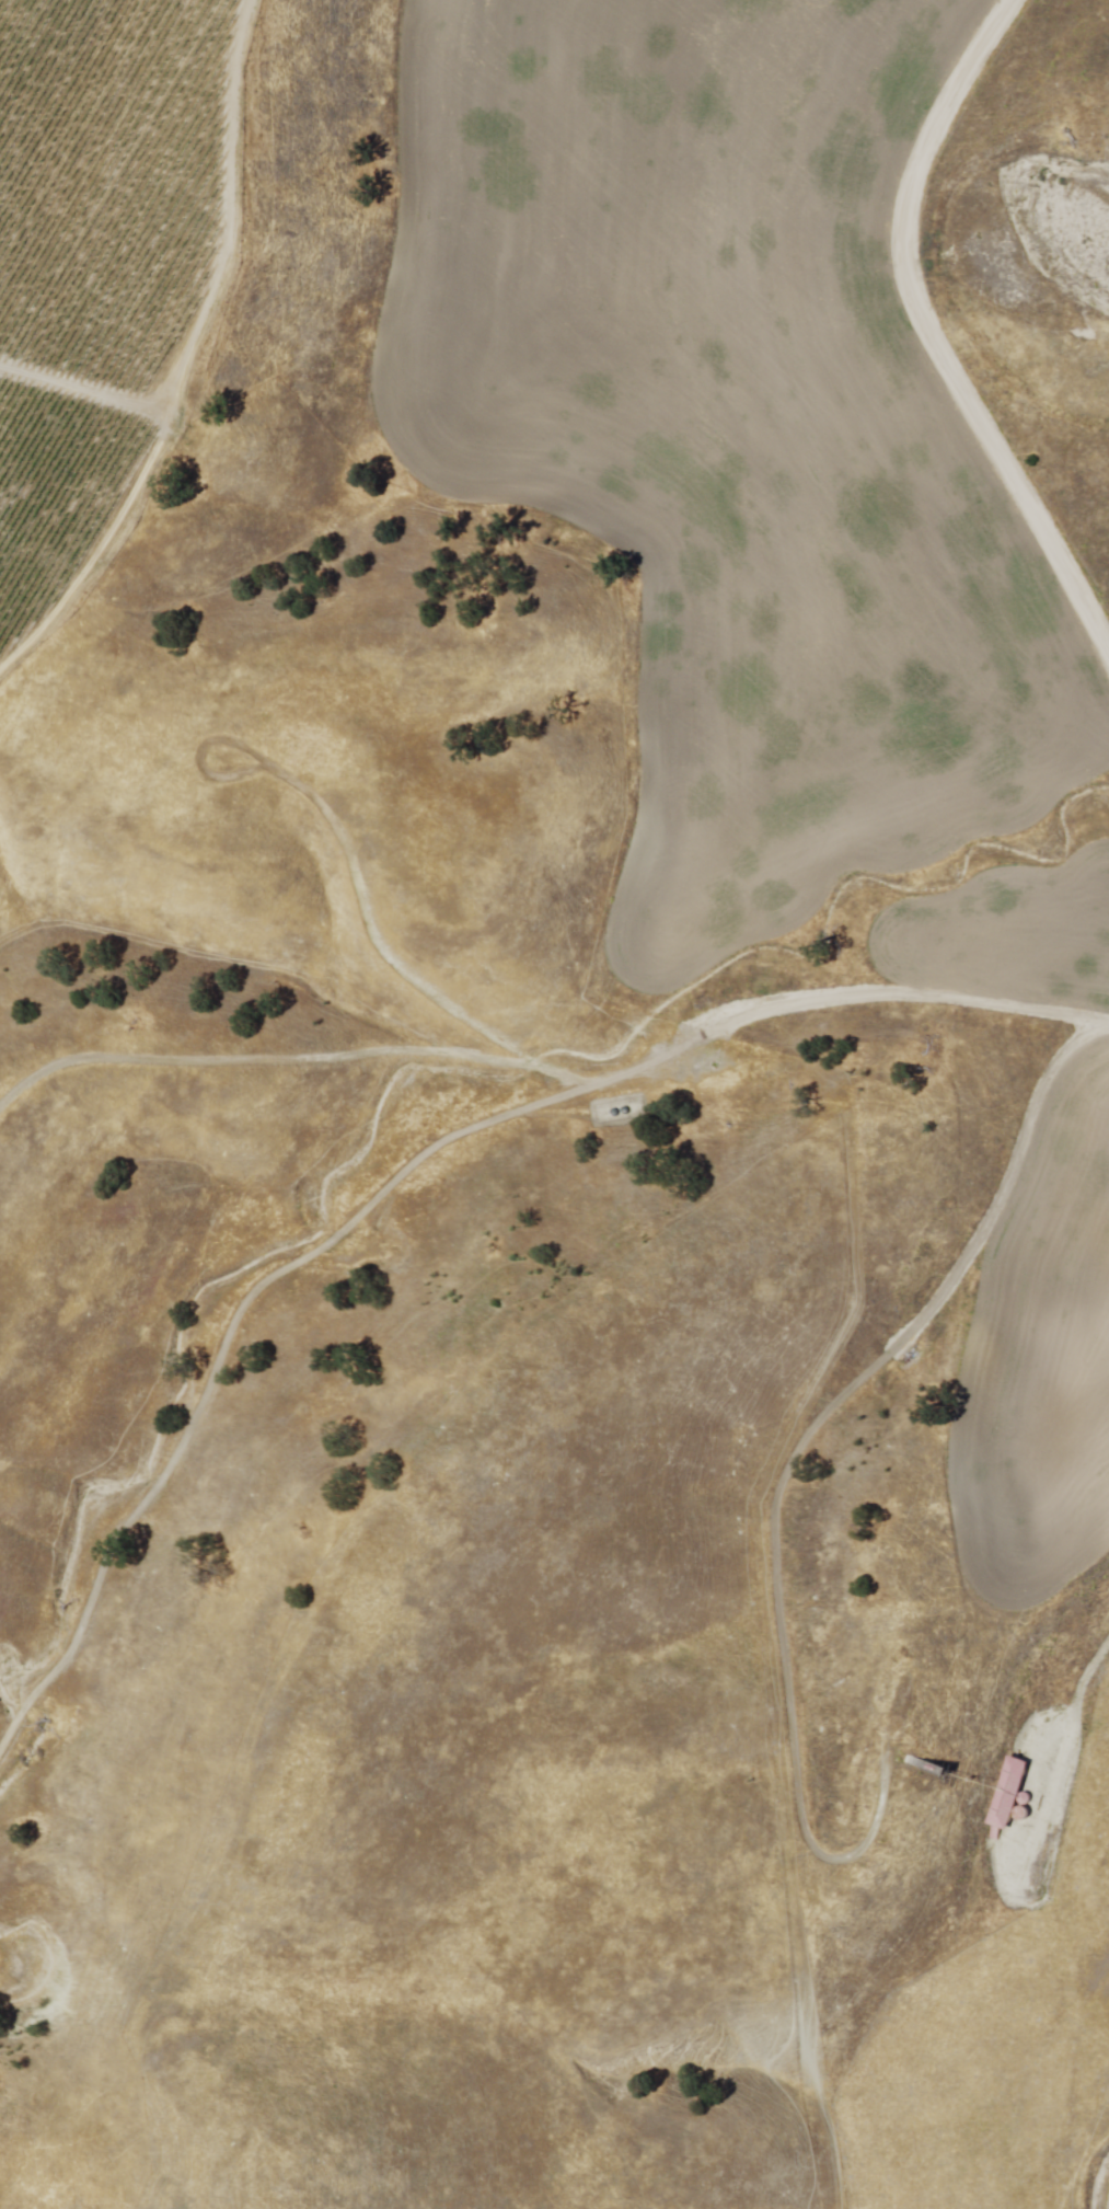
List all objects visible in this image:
road: (929, 337)
road: (555, 1069)
road: (224, 1343)
road: (784, 1484)
building: (1006, 1794)
storage tank: (1025, 1799)
storage tank: (1019, 1814)

